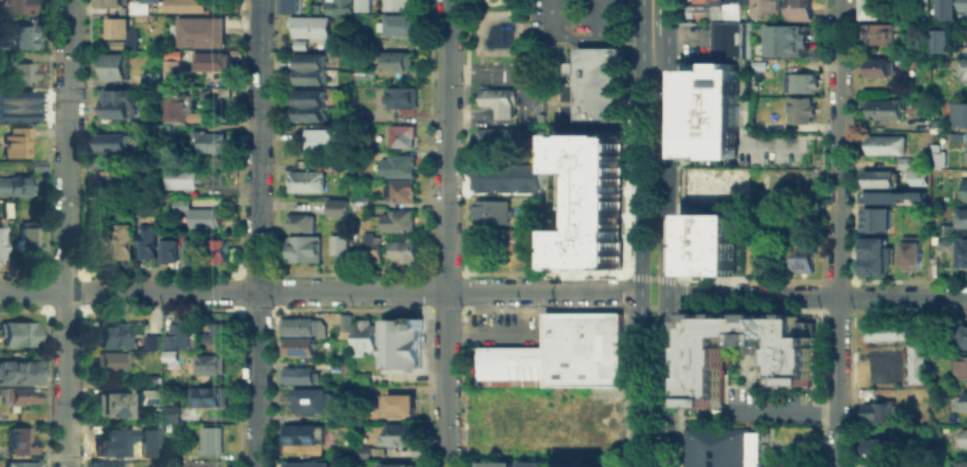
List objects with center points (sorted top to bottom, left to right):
building: (107, 2)
building: (186, 4)
building: (397, 4)
building: (922, 4)
building: (142, 5)
building: (362, 5)
building: (965, 5)
building: (15, 6)
building: (289, 6)
building: (341, 6)
building: (764, 8)
building: (871, 8)
building: (946, 8)
building: (709, 9)
building: (798, 10)
road: (667, 17)
parking lot: (574, 21)
building: (400, 25)
building: (308, 26)
building: (115, 27)
building: (199, 29)
building: (877, 33)
road: (574, 35)
building: (20, 37)
building: (729, 37)
building: (940, 38)
building: (785, 39)
building: (115, 44)
building: (297, 44)
building: (210, 61)
building: (395, 61)
building: (172, 66)
building: (115, 67)
building: (877, 67)
building: (309, 68)
building: (963, 69)
building: (20, 73)
building: (362, 73)
building: (150, 79)
building: (799, 82)
building: (598, 84)
building: (208, 93)
building: (15, 97)
building: (399, 98)
road: (520, 98)
building: (496, 99)
building: (119, 103)
building: (309, 106)
building: (178, 107)
building: (884, 108)
building: (713, 110)
building: (799, 110)
building: (15, 112)
building: (959, 113)
building: (200, 118)
building: (399, 136)
building: (496, 138)
building: (13, 140)
building: (323, 140)
building: (114, 141)
building: (210, 142)
building: (885, 144)
building: (966, 151)
building: (936, 154)
building: (902, 162)
building: (397, 177)
building: (917, 177)
building: (187, 178)
building: (113, 179)
building: (882, 179)
building: (306, 182)
building: (713, 184)
building: (14, 185)
building: (963, 188)
building: (891, 193)
building: (591, 199)
building: (358, 202)
building: (183, 204)
building: (336, 208)
building: (490, 212)
building: (877, 217)
building: (963, 217)
building: (204, 219)
building: (397, 220)
building: (300, 223)
building: (949, 228)
road: (67, 233)
road: (256, 233)
road: (448, 233)
road: (640, 233)
road: (838, 233)
building: (0, 238)
building: (122, 239)
building: (504, 240)
building: (26, 241)
building: (147, 241)
building: (709, 241)
building: (338, 245)
building: (369, 247)
building: (301, 249)
building: (402, 250)
road: (665, 250)
building: (169, 251)
building: (194, 251)
building: (218, 251)
building: (909, 252)
building: (963, 252)
building: (877, 254)
building: (755, 255)
building: (801, 257)
road: (652, 278)
road: (320, 291)
road: (815, 295)
road: (652, 307)
building: (343, 322)
building: (300, 327)
parking lot: (506, 329)
road: (516, 329)
building: (175, 333)
building: (217, 333)
building: (18, 334)
building: (112, 334)
building: (363, 336)
building: (964, 337)
building: (150, 343)
building: (400, 343)
building: (583, 346)
building: (297, 348)
building: (167, 354)
building: (914, 360)
building: (112, 362)
building: (208, 365)
building: (514, 365)
building: (791, 365)
building: (963, 365)
building: (19, 372)
building: (297, 376)
building: (360, 378)
building: (933, 381)
building: (145, 395)
building: (602, 395)
building: (16, 396)
building: (208, 396)
building: (915, 400)
building: (961, 400)
building: (310, 401)
building: (400, 404)
building: (112, 405)
parking lot: (770, 407)
road: (786, 411)
building: (169, 414)
building: (877, 414)
building: (152, 430)
building: (399, 434)
building: (301, 435)
building: (964, 436)
building: (20, 440)
building: (210, 440)
building: (116, 447)
building: (720, 447)
building: (876, 448)
building: (362, 451)
parking lot: (791, 460)
building: (529, 463)
building: (106, 464)
building: (307, 464)
building: (494, 464)
road: (792, 464)
building: (873, 464)
building: (961, 464)
building: (22, 465)
building: (397, 466)

